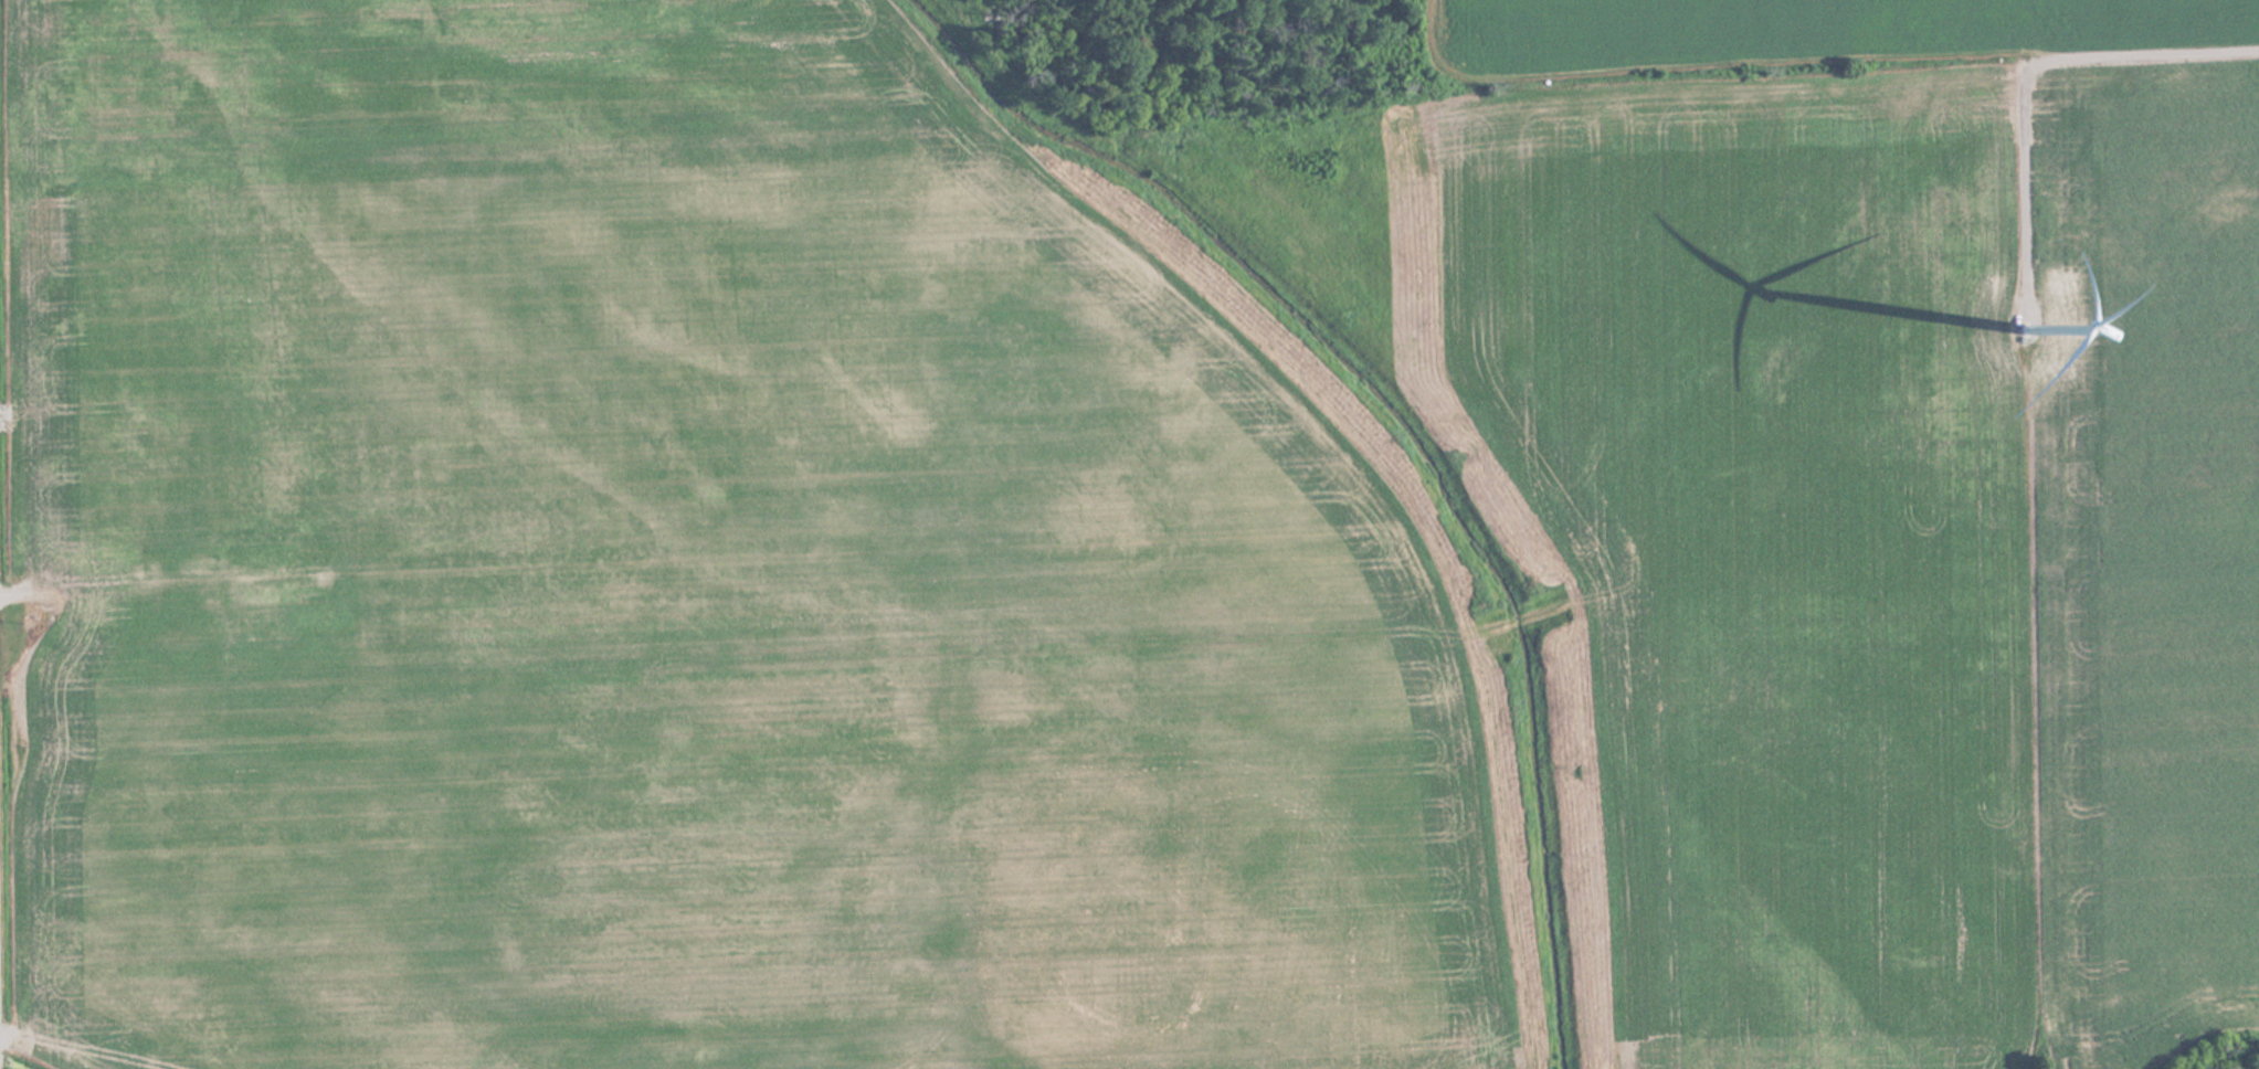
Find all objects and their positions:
road: (2062, 57)
wind turbine: (2028, 317)

